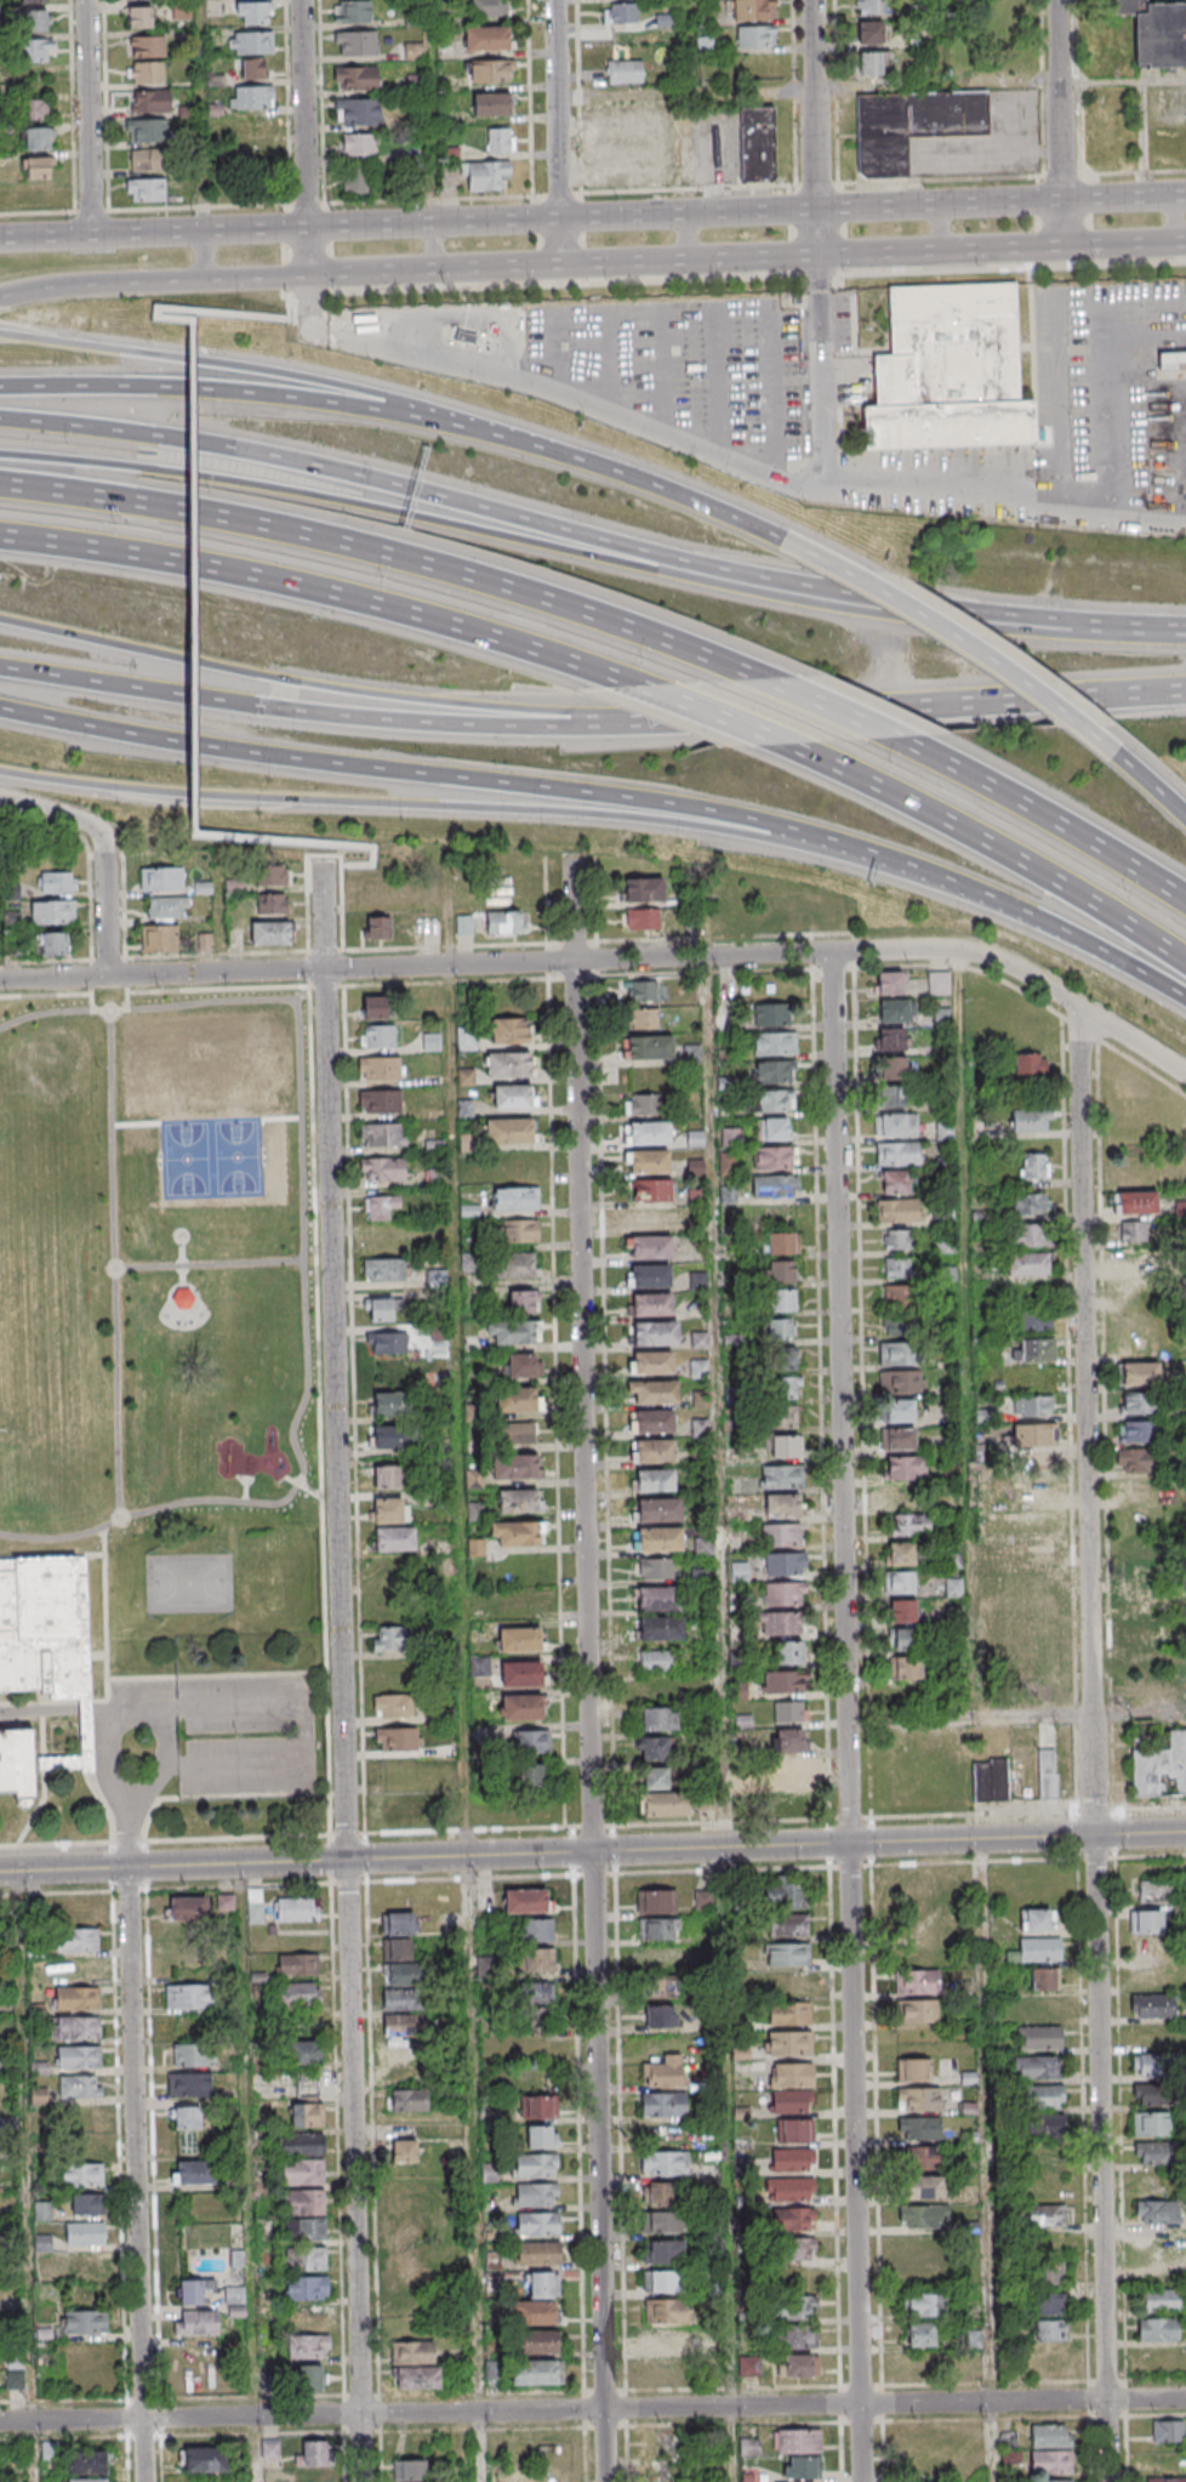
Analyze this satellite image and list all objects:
building: (32, 1)
building: (489, 7)
building: (869, 7)
building: (752, 10)
building: (181, 11)
building: (352, 11)
building: (252, 12)
building: (620, 13)
building: (139, 17)
building: (35, 21)
building: (871, 33)
building: (1156, 36)
building: (755, 38)
building: (486, 39)
building: (251, 42)
building: (355, 42)
road: (942, 42)
building: (147, 45)
road: (688, 46)
building: (35, 51)
building: (414, 51)
building: (873, 63)
building: (252, 68)
building: (147, 72)
building: (625, 72)
building: (489, 73)
building: (354, 76)
road: (1082, 87)
road: (1043, 89)
road: (809, 90)
building: (251, 97)
road: (580, 97)
road: (531, 98)
building: (149, 101)
road: (815, 104)
building: (490, 106)
road: (558, 108)
building: (35, 109)
building: (358, 110)
road: (431, 112)
road: (304, 113)
road: (200, 115)
road: (90, 118)
road: (1061, 123)
building: (913, 125)
building: (252, 129)
building: (146, 130)
building: (36, 138)
building: (500, 140)
building: (358, 144)
building: (757, 144)
building: (146, 159)
building: (253, 163)
building: (36, 167)
road: (1135, 173)
building: (486, 175)
road: (1064, 176)
building: (354, 182)
building: (144, 189)
building: (32, 195)
road: (291, 205)
road: (873, 207)
road: (1176, 218)
road: (326, 227)
road: (942, 227)
road: (820, 232)
road: (46, 237)
road: (688, 237)
road: (560, 241)
road: (435, 245)
road: (1003, 246)
road: (309, 250)
road: (204, 256)
road: (410, 268)
road: (222, 312)
building: (462, 337)
building: (1171, 360)
road: (823, 364)
road: (236, 366)
building: (950, 371)
road: (235, 389)
road: (551, 389)
road: (1057, 473)
road: (663, 488)
road: (536, 518)
road: (536, 542)
road: (387, 551)
road: (192, 576)
road: (327, 590)
road: (1129, 630)
road: (1019, 677)
road: (313, 682)
road: (908, 705)
road: (314, 710)
road: (842, 715)
road: (730, 718)
road: (610, 793)
road: (420, 803)
road: (1180, 807)
road: (52, 813)
road: (1057, 822)
road: (315, 844)
road: (1003, 849)
road: (90, 873)
building: (273, 875)
building: (160, 878)
building: (57, 882)
building: (643, 889)
road: (108, 901)
building: (272, 904)
building: (166, 906)
building: (51, 911)
building: (640, 918)
building: (506, 921)
building: (463, 923)
building: (376, 927)
building: (269, 933)
building: (158, 938)
building: (53, 943)
building: (13, 945)
road: (610, 958)
road: (46, 962)
road: (812, 970)
building: (889, 983)
building: (939, 984)
road: (155, 990)
building: (643, 991)
road: (301, 992)
building: (374, 1007)
building: (894, 1009)
road: (44, 1014)
building: (771, 1014)
building: (643, 1018)
building: (942, 1018)
building: (508, 1031)
building: (377, 1036)
building: (466, 1037)
building: (891, 1038)
building: (431, 1042)
building: (776, 1046)
building: (648, 1048)
building: (1031, 1064)
building: (509, 1065)
building: (380, 1068)
building: (893, 1068)
building: (776, 1074)
building: (513, 1097)
building: (891, 1097)
building: (380, 1101)
building: (775, 1101)
building: (644, 1105)
building: (1031, 1118)
road: (205, 1120)
building: (895, 1123)
building: (772, 1131)
building: (511, 1133)
building: (381, 1134)
building: (650, 1135)
building: (694, 1140)
building: (897, 1152)
park: (210, 1156)
building: (772, 1159)
building: (650, 1163)
building: (1034, 1166)
building: (695, 1167)
building: (381, 1168)
building: (1136, 1173)
building: (894, 1182)
building: (775, 1188)
building: (652, 1192)
building: (728, 1196)
building: (517, 1201)
building: (1135, 1202)
building: (1031, 1203)
building: (380, 1206)
building: (897, 1211)
building: (654, 1222)
building: (519, 1230)
building: (1133, 1231)
building: (1027, 1235)
building: (896, 1240)
building: (387, 1242)
building: (781, 1242)
building: (651, 1249)
road: (179, 1256)
building: (1133, 1259)
road: (113, 1263)
road: (207, 1263)
building: (1027, 1265)
building: (897, 1266)
building: (511, 1268)
park: (155, 1269)
building: (383, 1269)
building: (781, 1271)
park: (40, 1279)
building: (651, 1279)
road: (193, 1288)
building: (896, 1296)
building: (182, 1297)
building: (782, 1299)
building: (523, 1300)
building: (377, 1308)
building: (654, 1308)
road: (306, 1316)
building: (1036, 1320)
building: (897, 1323)
building: (777, 1328)
building: (513, 1331)
road: (965, 1333)
building: (656, 1337)
building: (386, 1342)
building: (1034, 1349)
building: (897, 1353)
building: (781, 1357)
road: (333, 1362)
building: (519, 1365)
building: (652, 1366)
building: (699, 1370)
building: (1140, 1373)
building: (901, 1382)
building: (787, 1388)
building: (657, 1396)
building: (518, 1399)
building: (700, 1399)
road: (717, 1401)
building: (388, 1404)
building: (1136, 1404)
building: (1032, 1406)
road: (461, 1410)
building: (899, 1411)
road: (318, 1414)
building: (783, 1417)
building: (655, 1425)
building: (699, 1428)
building: (1137, 1431)
building: (517, 1433)
building: (1042, 1434)
building: (388, 1436)
building: (899, 1440)
building: (783, 1446)
building: (656, 1455)
building: (1137, 1461)
building: (514, 1467)
building: (903, 1469)
building: (387, 1476)
building: (782, 1478)
building: (655, 1484)
road: (302, 1485)
road: (244, 1488)
building: (899, 1498)
building: (519, 1501)
building: (782, 1507)
building: (389, 1509)
building: (660, 1514)
building: (908, 1526)
building: (517, 1533)
building: (781, 1536)
building: (394, 1539)
building: (661, 1543)
building: (900, 1555)
road: (51, 1556)
building: (952, 1560)
building: (786, 1565)
building: (654, 1569)
building: (1139, 1577)
park: (187, 1582)
building: (899, 1583)
building: (953, 1588)
building: (785, 1595)
building: (660, 1603)
building: (901, 1612)
building: (782, 1624)
building: (1145, 1630)
building: (661, 1632)
building: (393, 1638)
building: (521, 1639)
building: (903, 1640)
road: (96, 1653)
building: (788, 1653)
building: (41, 1660)
building: (657, 1664)
road: (106, 1667)
building: (480, 1667)
building: (905, 1668)
road: (591, 1669)
building: (519, 1673)
road: (215, 1674)
building: (783, 1683)
building: (393, 1706)
building: (521, 1707)
road: (63, 1708)
road: (142, 1708)
building: (789, 1712)
road: (849, 1717)
road: (969, 1718)
building: (656, 1719)
road: (300, 1724)
building: (398, 1738)
building: (788, 1740)
building: (530, 1741)
road: (1090, 1744)
building: (652, 1748)
building: (1161, 1767)
building: (788, 1769)
road: (41, 1772)
road: (92, 1772)
building: (1048, 1774)
building: (530, 1776)
building: (655, 1778)
building: (990, 1780)
road: (235, 1794)
building: (663, 1804)
road: (1028, 1814)
road: (415, 1833)
road: (126, 1838)
road: (592, 1852)
building: (1154, 1890)
building: (783, 1891)
building: (526, 1900)
building: (702, 1900)
building: (654, 1901)
building: (187, 1908)
building: (74, 1912)
building: (295, 1912)
building: (1038, 1920)
building: (1145, 1922)
building: (397, 1923)
building: (787, 1924)
building: (663, 1929)
building: (534, 1930)
building: (182, 1936)
building: (79, 1939)
building: (397, 1948)
building: (1039, 1949)
building: (786, 1954)
building: (535, 1959)
building: (296, 1964)
building: (405, 1974)
building: (1043, 1977)
building: (787, 1983)
building: (917, 1983)
building: (662, 1986)
building: (297, 1994)
building: (187, 1997)
building: (76, 1998)
building: (404, 1999)
building: (1152, 2005)
building: (535, 2006)
building: (918, 2013)
building: (789, 2014)
building: (661, 2015)
building: (404, 2025)
building: (74, 2027)
building: (1039, 2037)
building: (789, 2044)
building: (399, 2051)
building: (302, 2053)
building: (192, 2054)
building: (76, 2056)
building: (1152, 2063)
building: (1037, 2067)
building: (913, 2071)
building: (663, 2072)
building: (791, 2076)
building: (188, 2084)
building: (79, 2085)
building: (1153, 2094)
building: (1042, 2095)
building: (918, 2099)
building: (407, 2100)
building: (307, 2101)
building: (791, 2101)
building: (662, 2104)
building: (537, 2107)
building: (184, 2118)
building: (1151, 2124)
building: (1044, 2125)
building: (919, 2128)
building: (794, 2130)
road: (472, 2134)
building: (542, 2136)
building: (298, 2145)
building: (403, 2152)
building: (1154, 2153)
building: (920, 2157)
building: (793, 2159)
road: (988, 2161)
building: (663, 2163)
building: (535, 2164)
road: (728, 2164)
road: (352, 2170)
building: (193, 2173)
road: (250, 2173)
building: (302, 2173)
building: (490, 2174)
road: (133, 2175)
road: (25, 2176)
building: (82, 2176)
building: (922, 2187)
building: (789, 2188)
building: (661, 2193)
building: (535, 2194)
building: (84, 2204)
building: (303, 2204)
building: (1157, 2211)
building: (1047, 2215)
building: (410, 2216)
building: (923, 2216)
building: (793, 2218)
building: (660, 2221)
building: (537, 2224)
building: (304, 2232)
building: (85, 2233)
building: (796, 2248)
building: (662, 2250)
building: (538, 2254)
building: (304, 2261)
building: (84, 2262)
building: (1047, 2275)
building: (411, 2277)
building: (661, 2281)
building: (541, 2285)
building: (304, 2289)
building: (193, 2290)
building: (234, 2295)
building: (1161, 2300)
building: (922, 2304)
building: (1047, 2304)
building: (794, 2307)
building: (236, 2311)
building: (665, 2311)
building: (535, 2313)
building: (84, 2323)
building: (1158, 2329)
building: (1049, 2332)
building: (920, 2334)
building: (794, 2336)
building: (667, 2340)
building: (538, 2341)
building: (313, 2346)
building: (415, 2366)
building: (797, 2366)
building: (749, 2367)
building: (535, 2372)
building: (307, 2378)
building: (15, 2380)
road: (592, 2409)
building: (1168, 2430)
building: (1050, 2436)
building: (797, 2442)
road: (479, 2447)
building: (748, 2447)
building: (269, 2449)
building: (312, 2453)
building: (204, 2459)
building: (86, 2463)
building: (1050, 2463)
building: (802, 2467)
building: (409, 2471)
building: (86, 2480)
building: (1165, 2480)
building: (1050, 2481)

